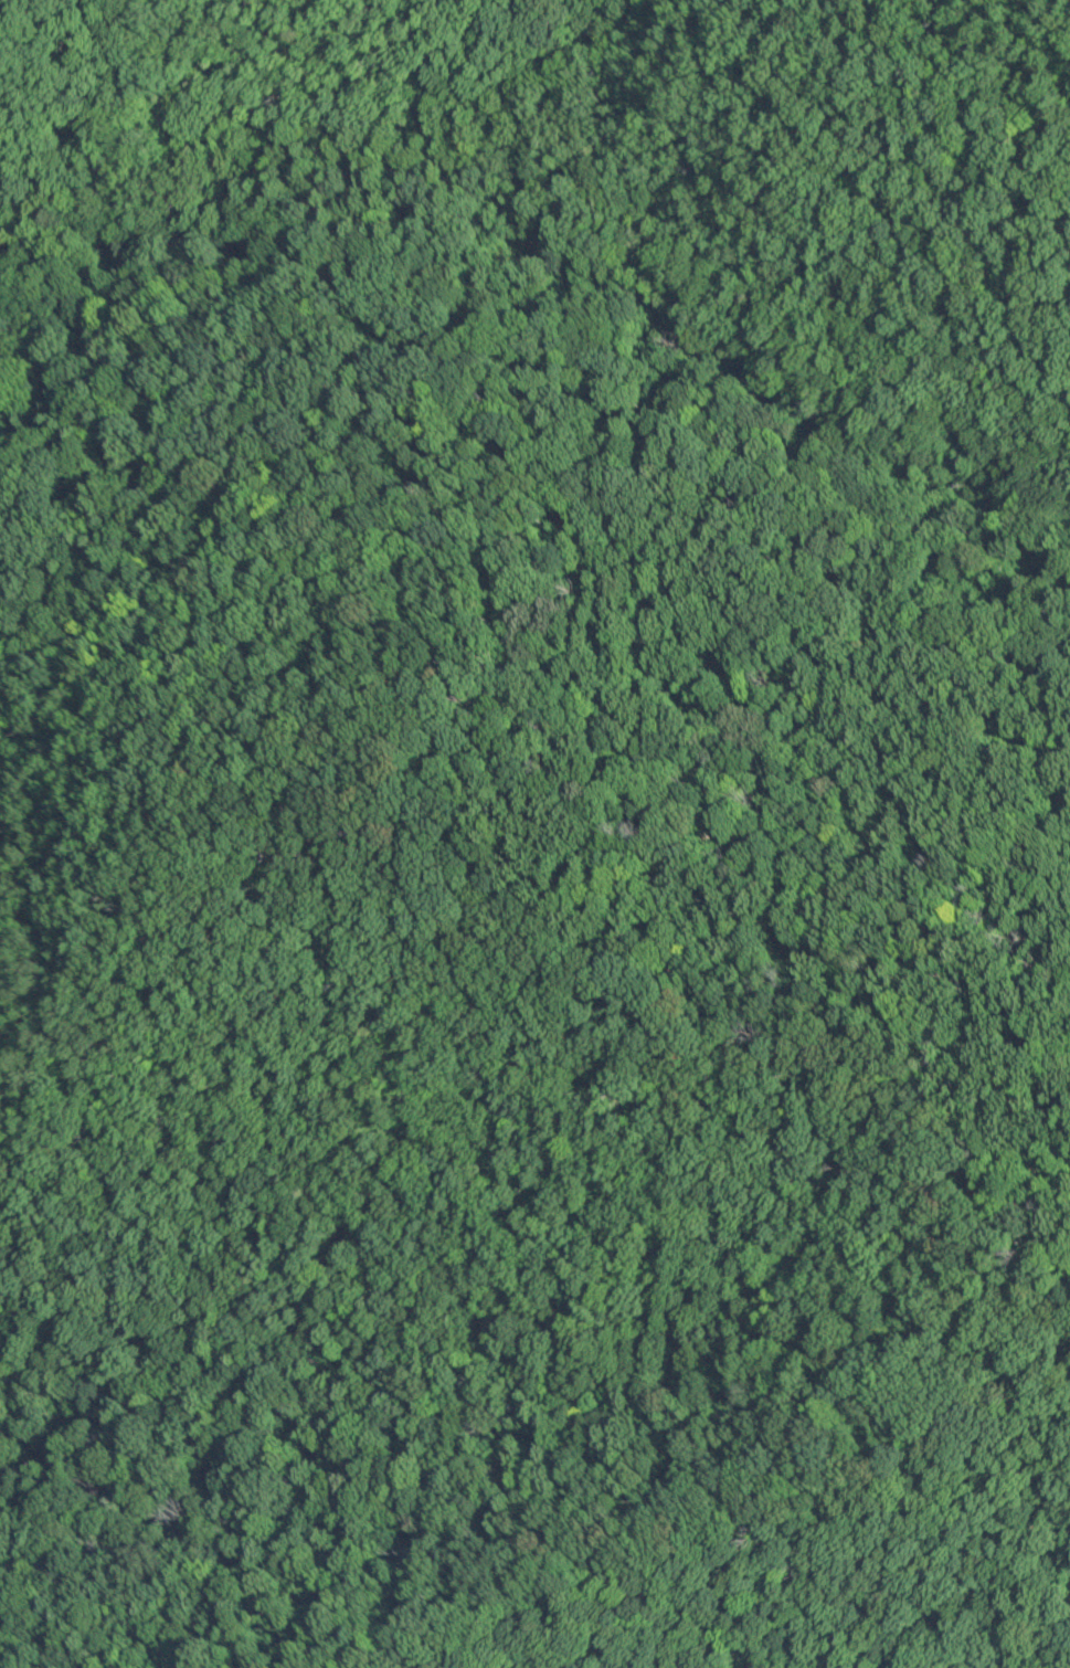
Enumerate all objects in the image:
road: (145, 167)

